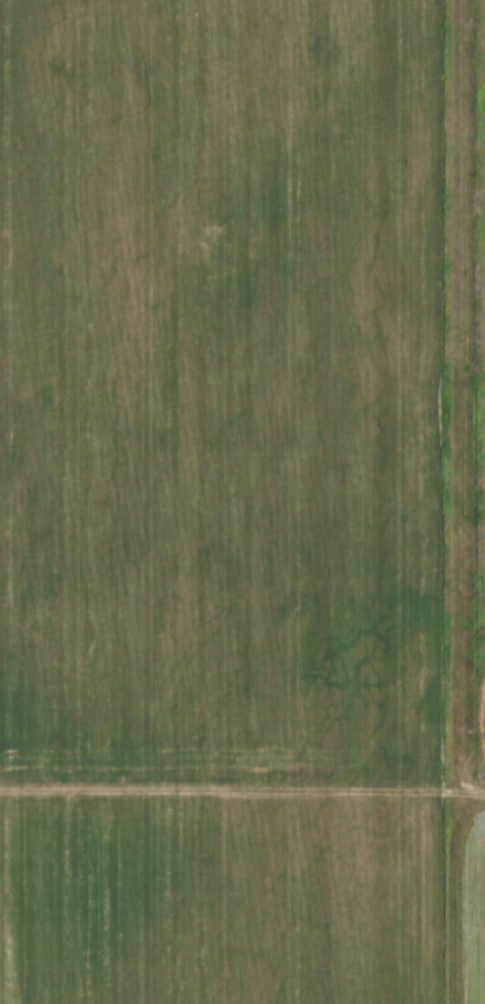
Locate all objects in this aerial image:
road: (463, 398)
road: (242, 791)
road: (460, 900)

